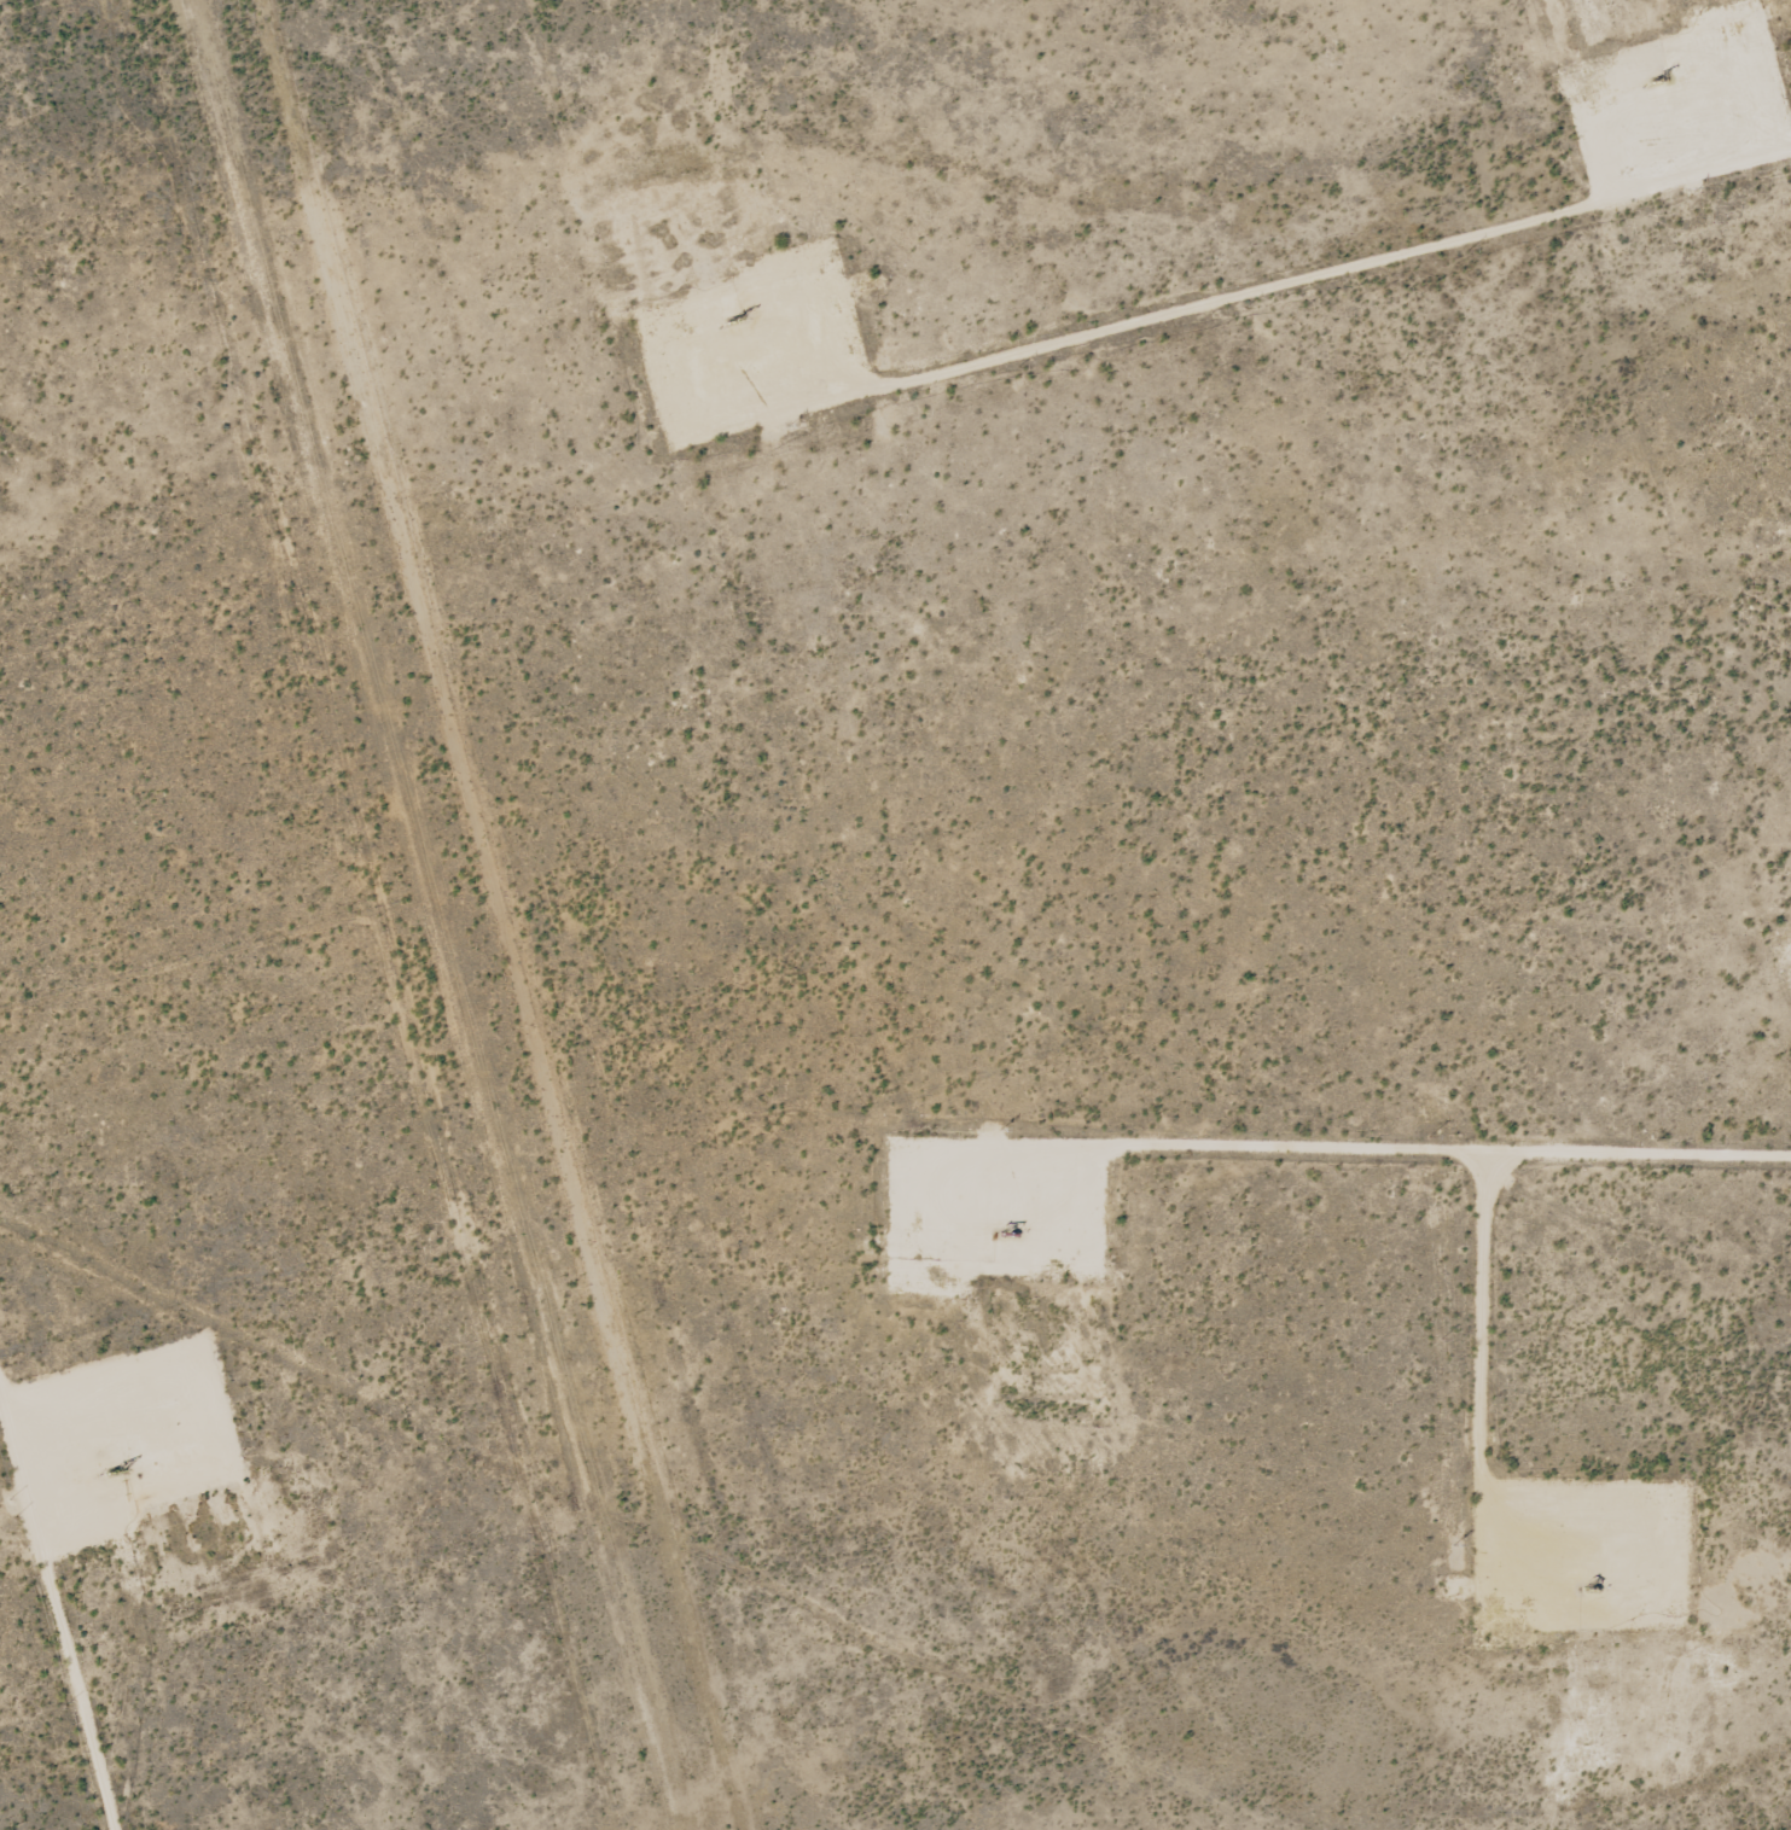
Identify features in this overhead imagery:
road: (57, 1625)

